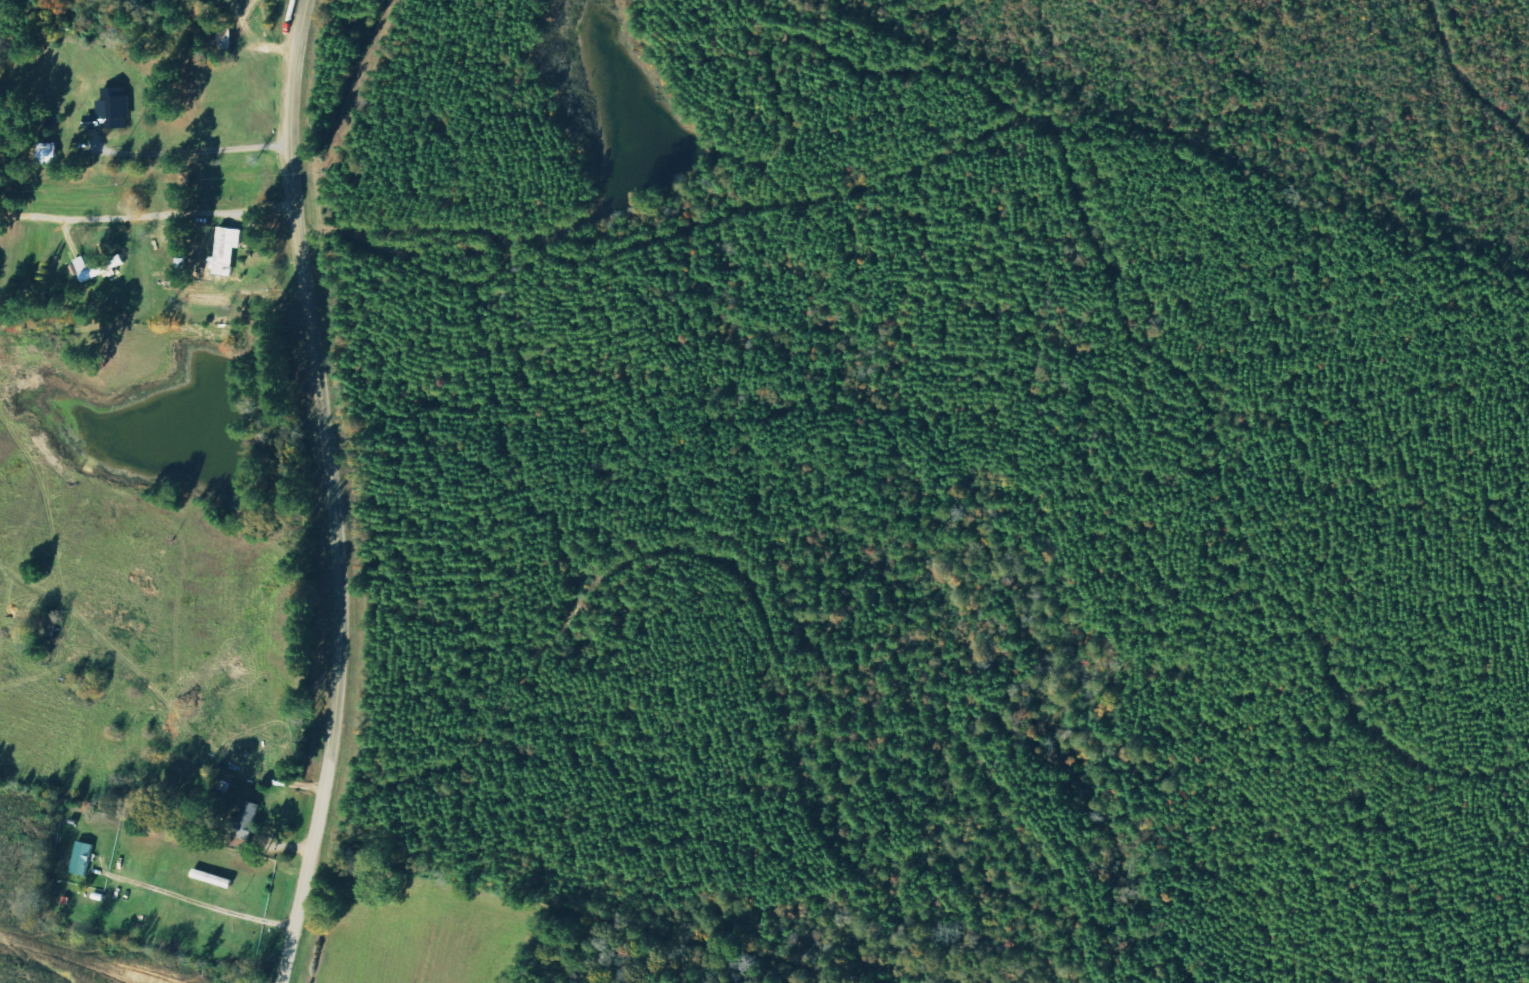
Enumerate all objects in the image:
building: (115, 111)
building: (56, 153)
building: (227, 252)
building: (97, 269)
road: (330, 492)
building: (255, 819)
building: (88, 858)

